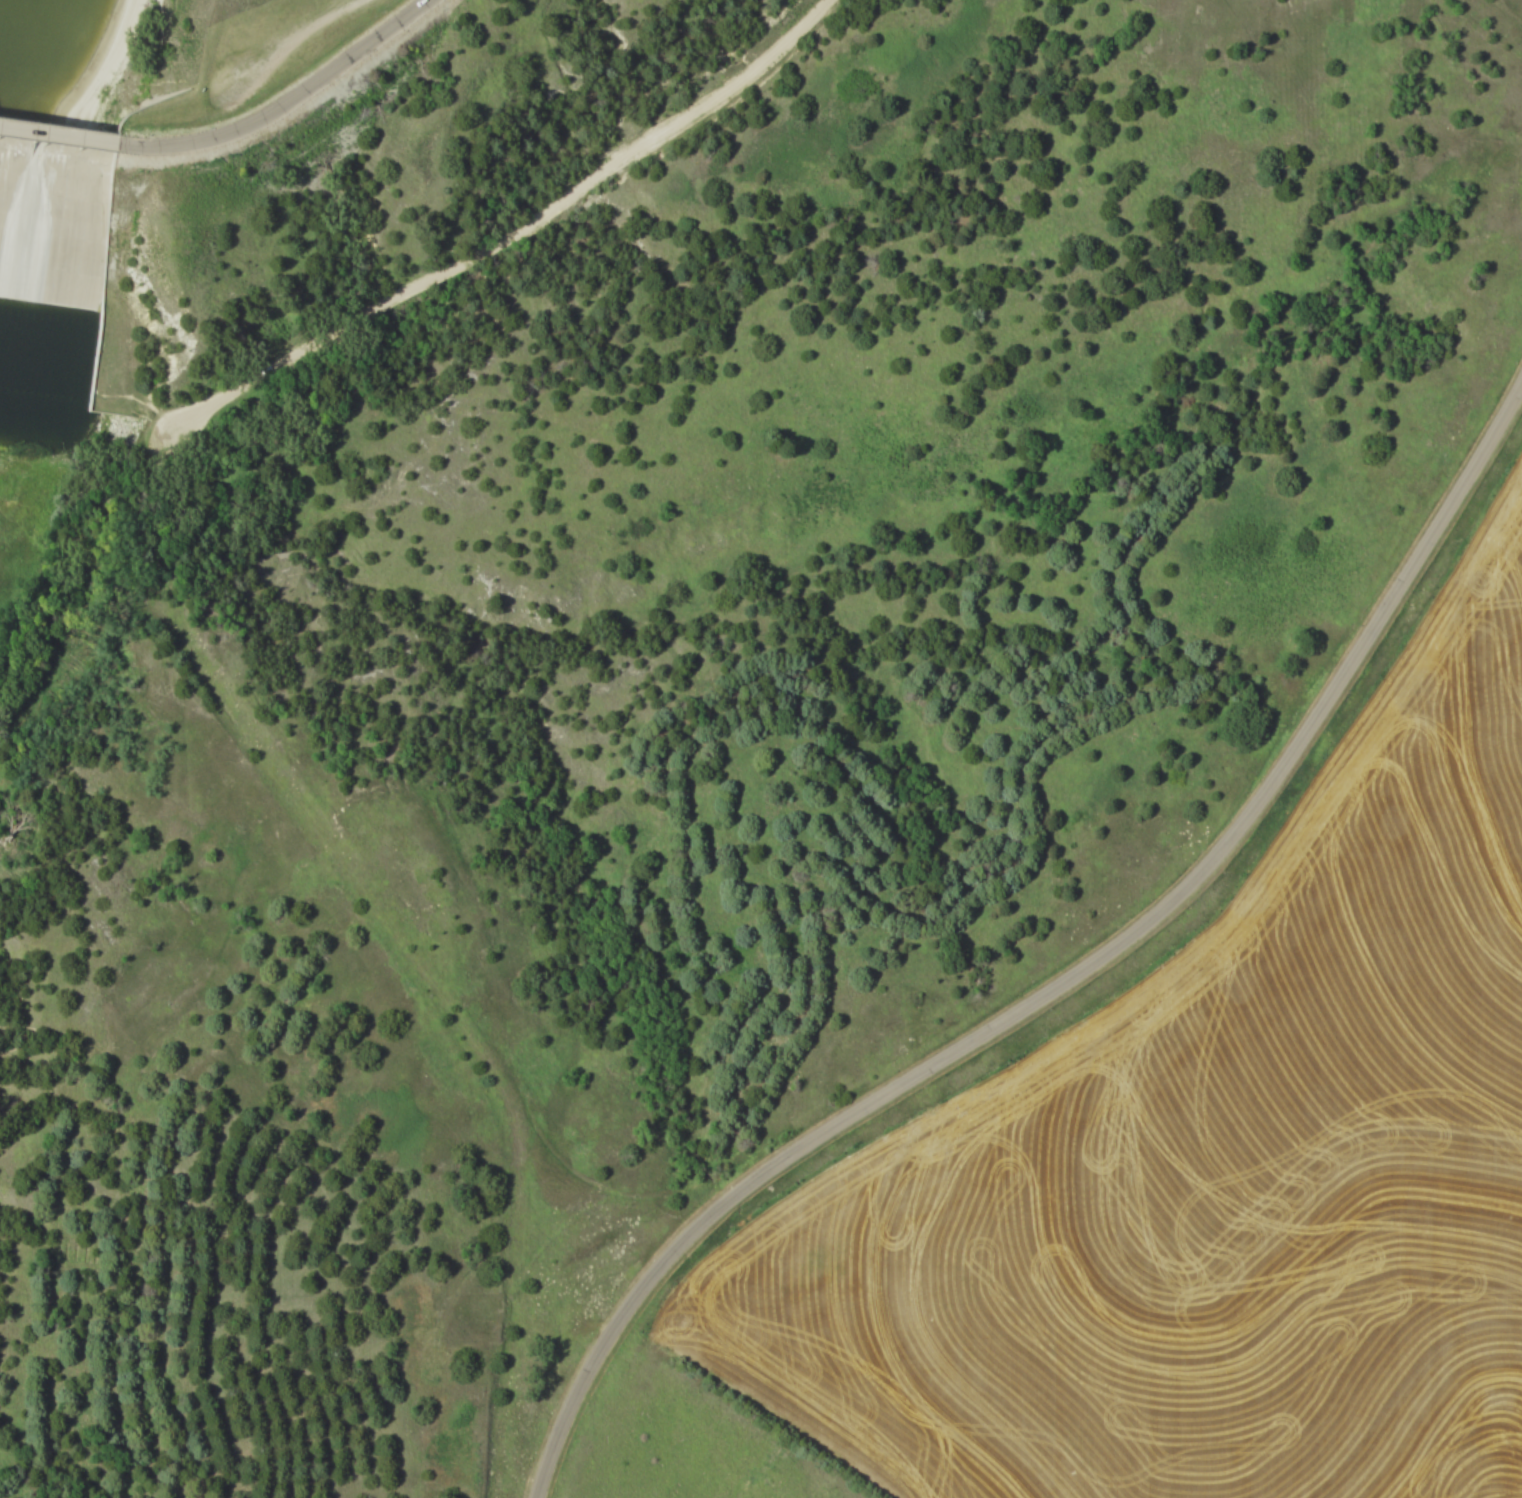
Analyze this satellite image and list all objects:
road: (225, 125)
road: (512, 237)
park: (631, 619)
road: (1066, 984)
crop: (1213, 1168)

